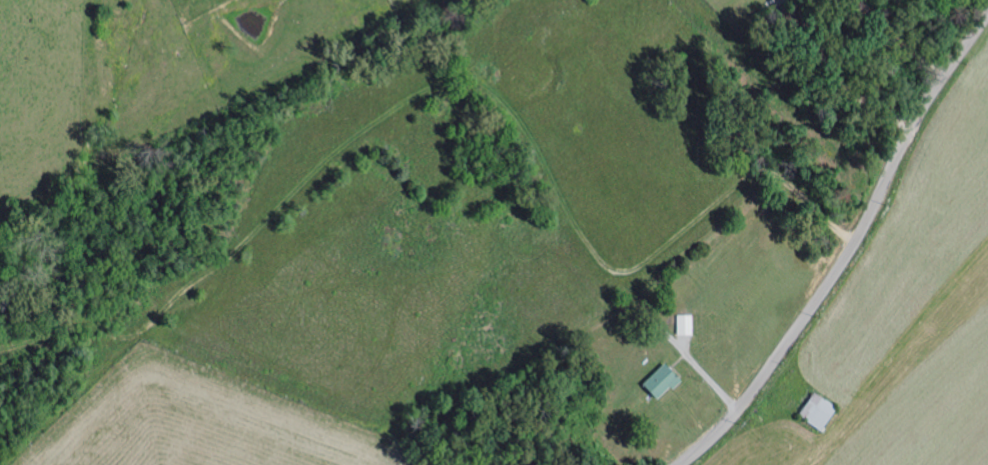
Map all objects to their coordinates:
road: (900, 42)
road: (841, 77)
road: (849, 250)
building: (686, 324)
building: (664, 380)
building: (821, 411)

